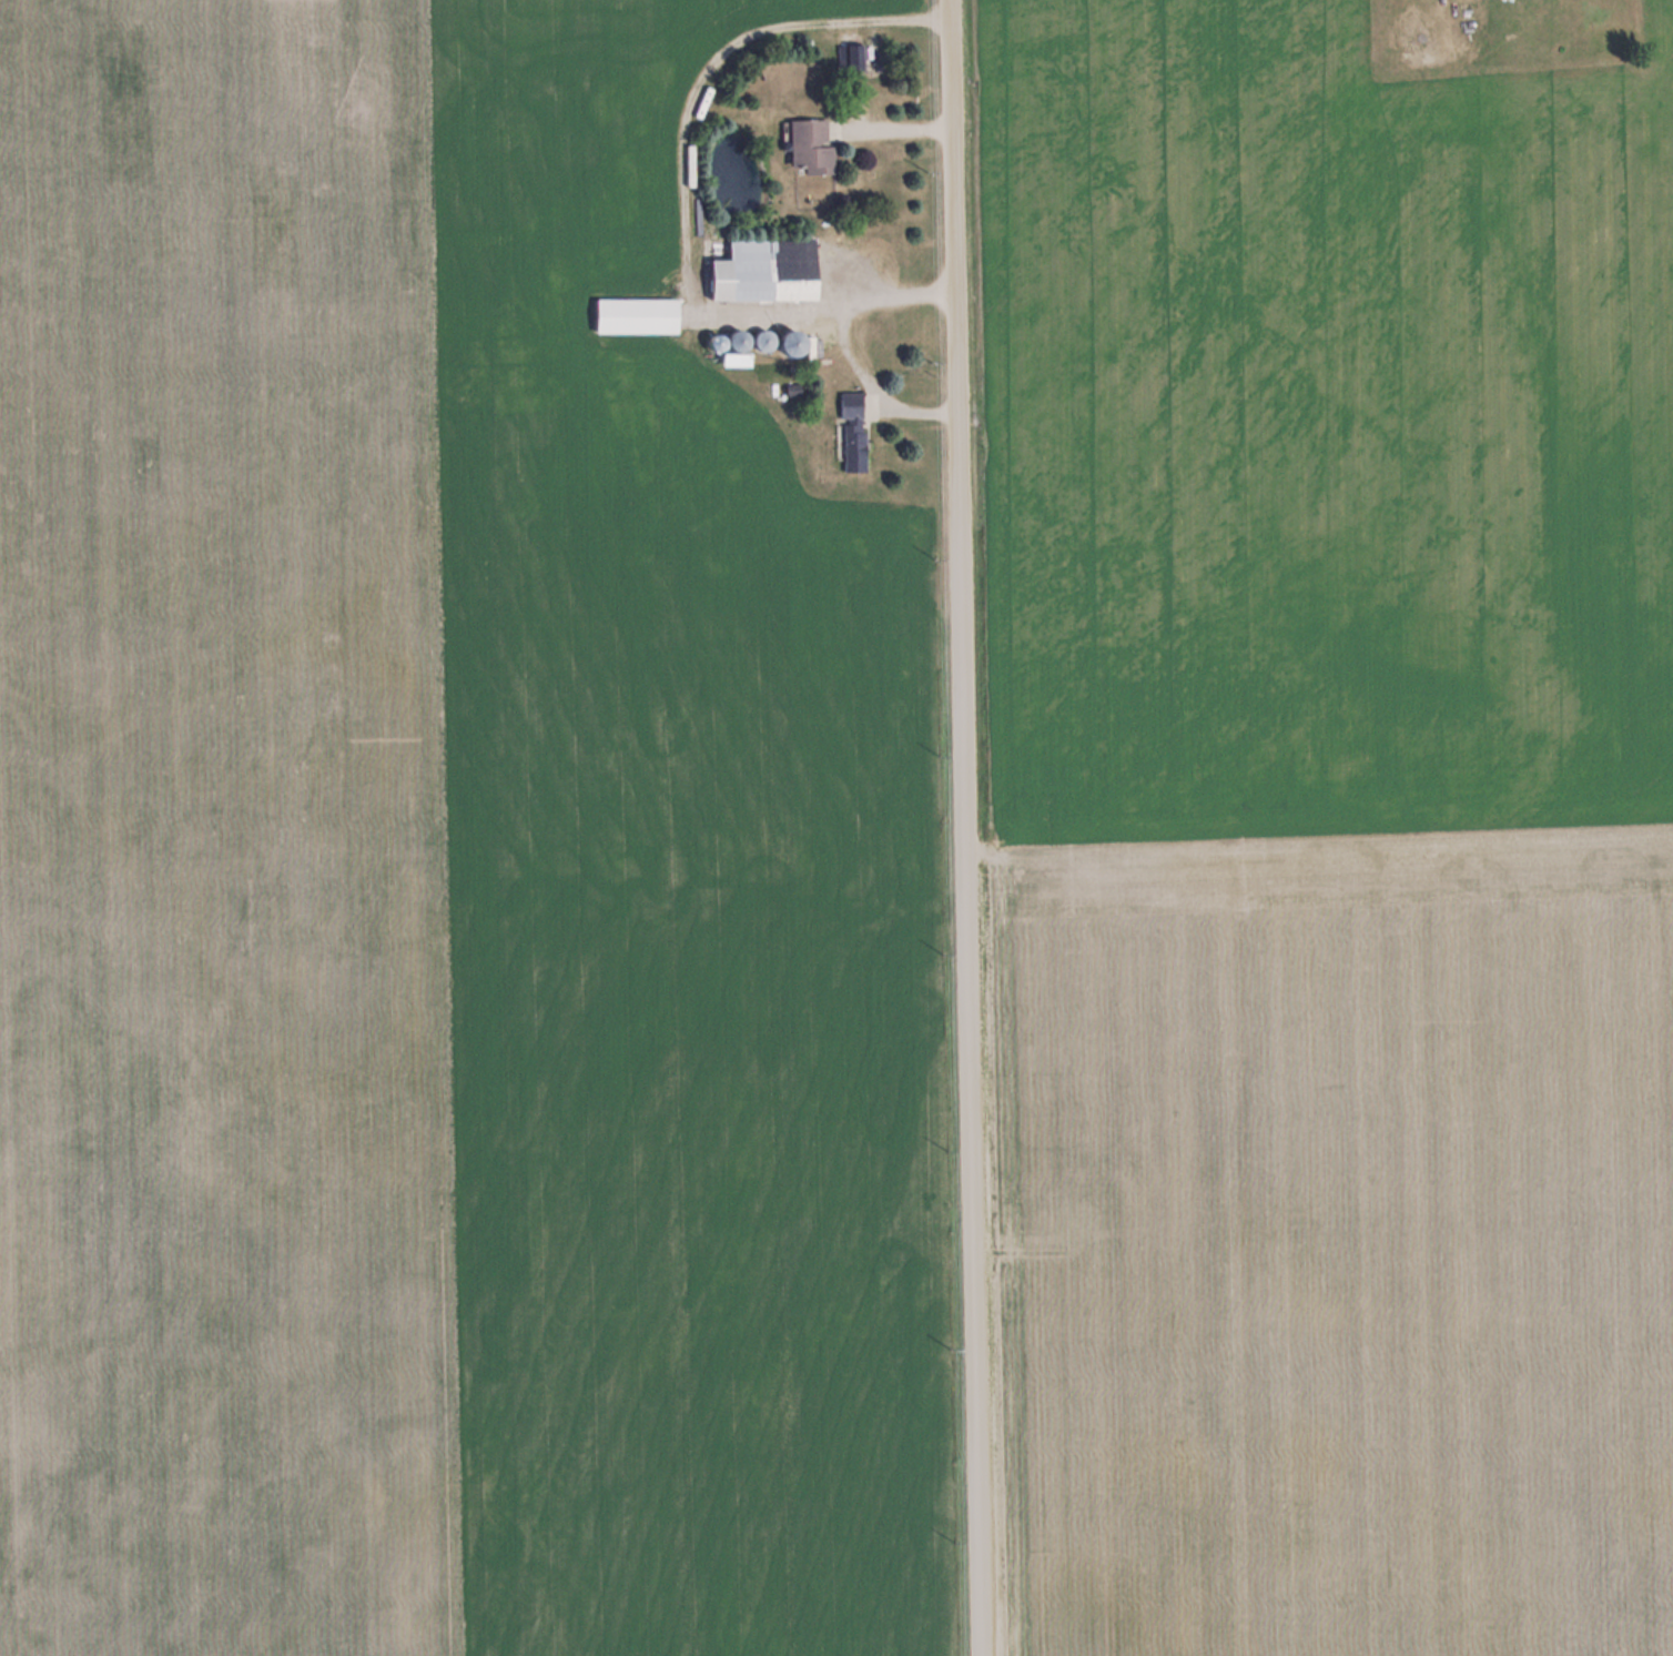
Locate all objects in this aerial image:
building: (850, 57)
building: (811, 147)
building: (765, 270)
building: (648, 313)
building: (738, 340)
building: (763, 340)
building: (792, 341)
building: (734, 359)
building: (853, 431)
road: (962, 828)

